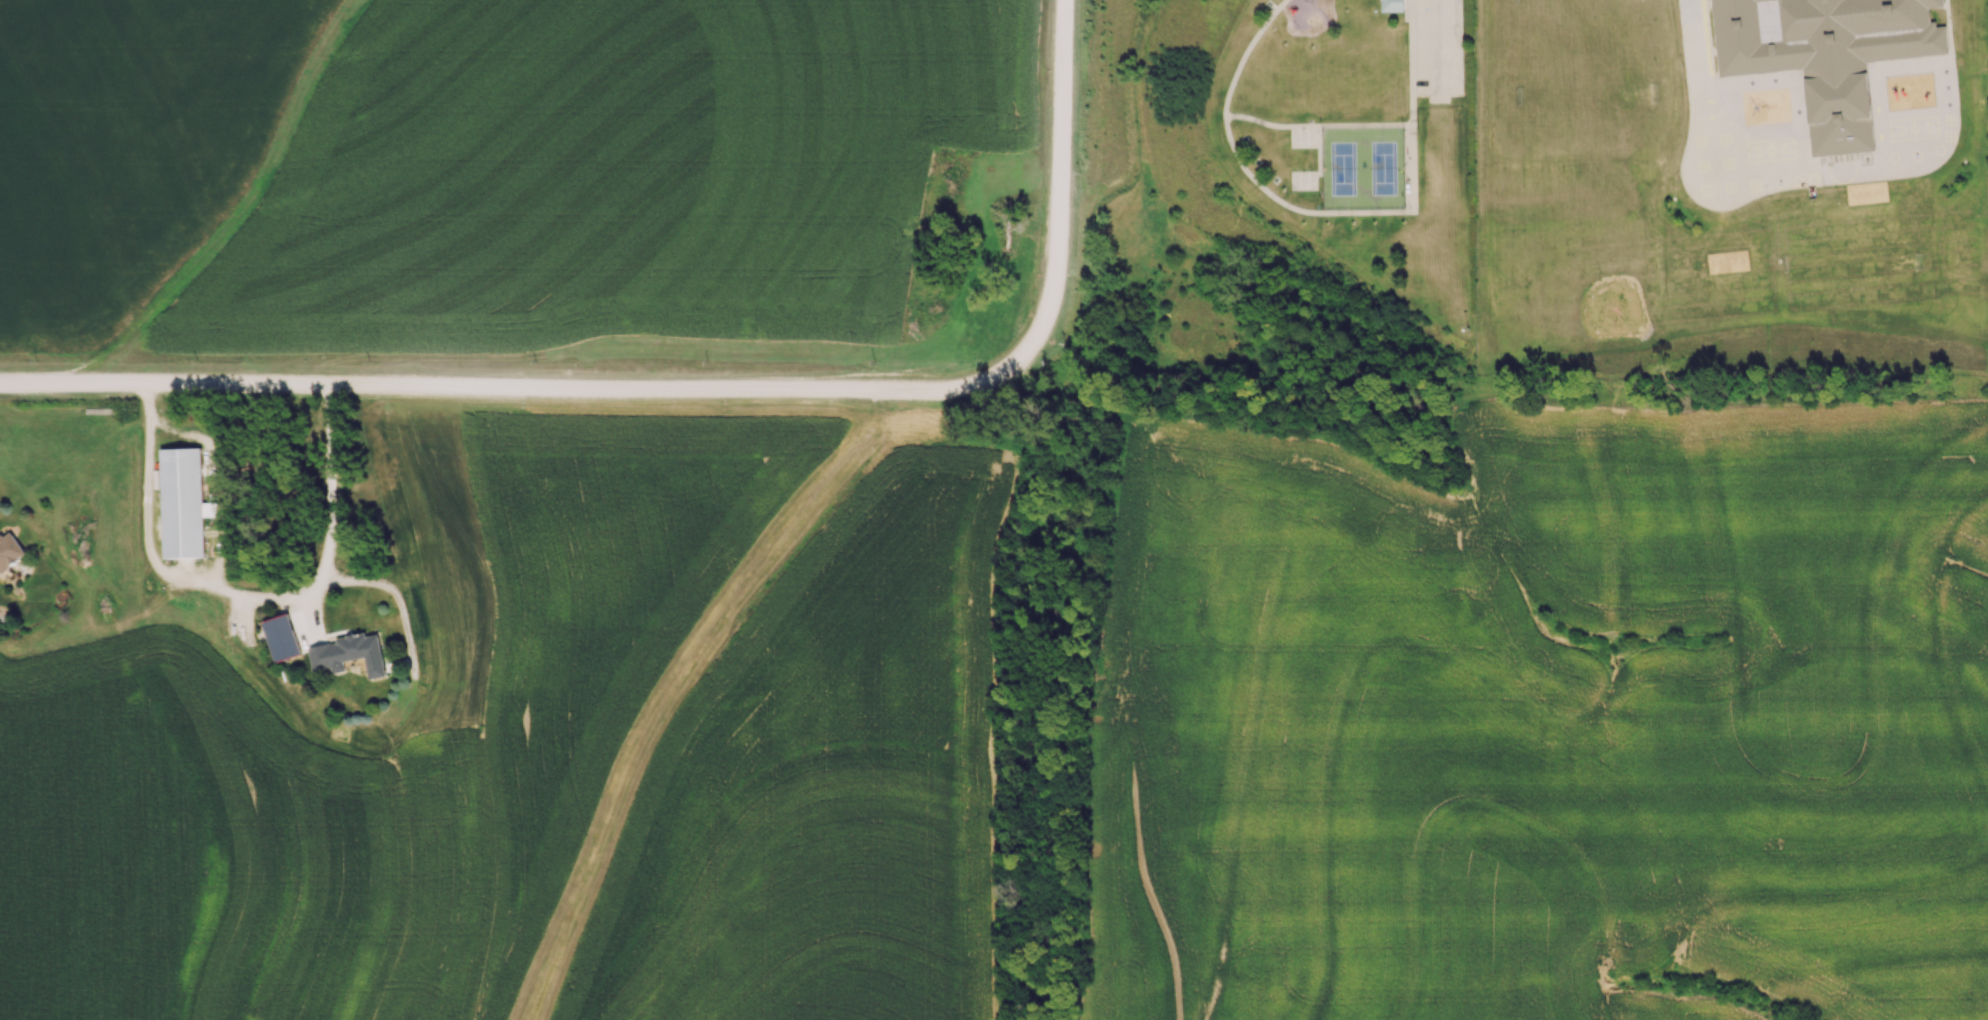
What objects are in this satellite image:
road: (1397, 1)
building: (1391, 5)
parking lot: (1437, 48)
road: (1438, 48)
building: (1822, 54)
road: (1701, 85)
road: (1317, 126)
crop: (479, 168)
park: (1362, 169)
park: (1290, 186)
road: (1330, 213)
park: (1613, 310)
street lamp: (1461, 334)
road: (698, 391)
road: (148, 405)
building: (183, 500)
building: (12, 551)
road: (267, 605)
building: (346, 654)
crop: (1550, 717)
crop: (598, 742)

